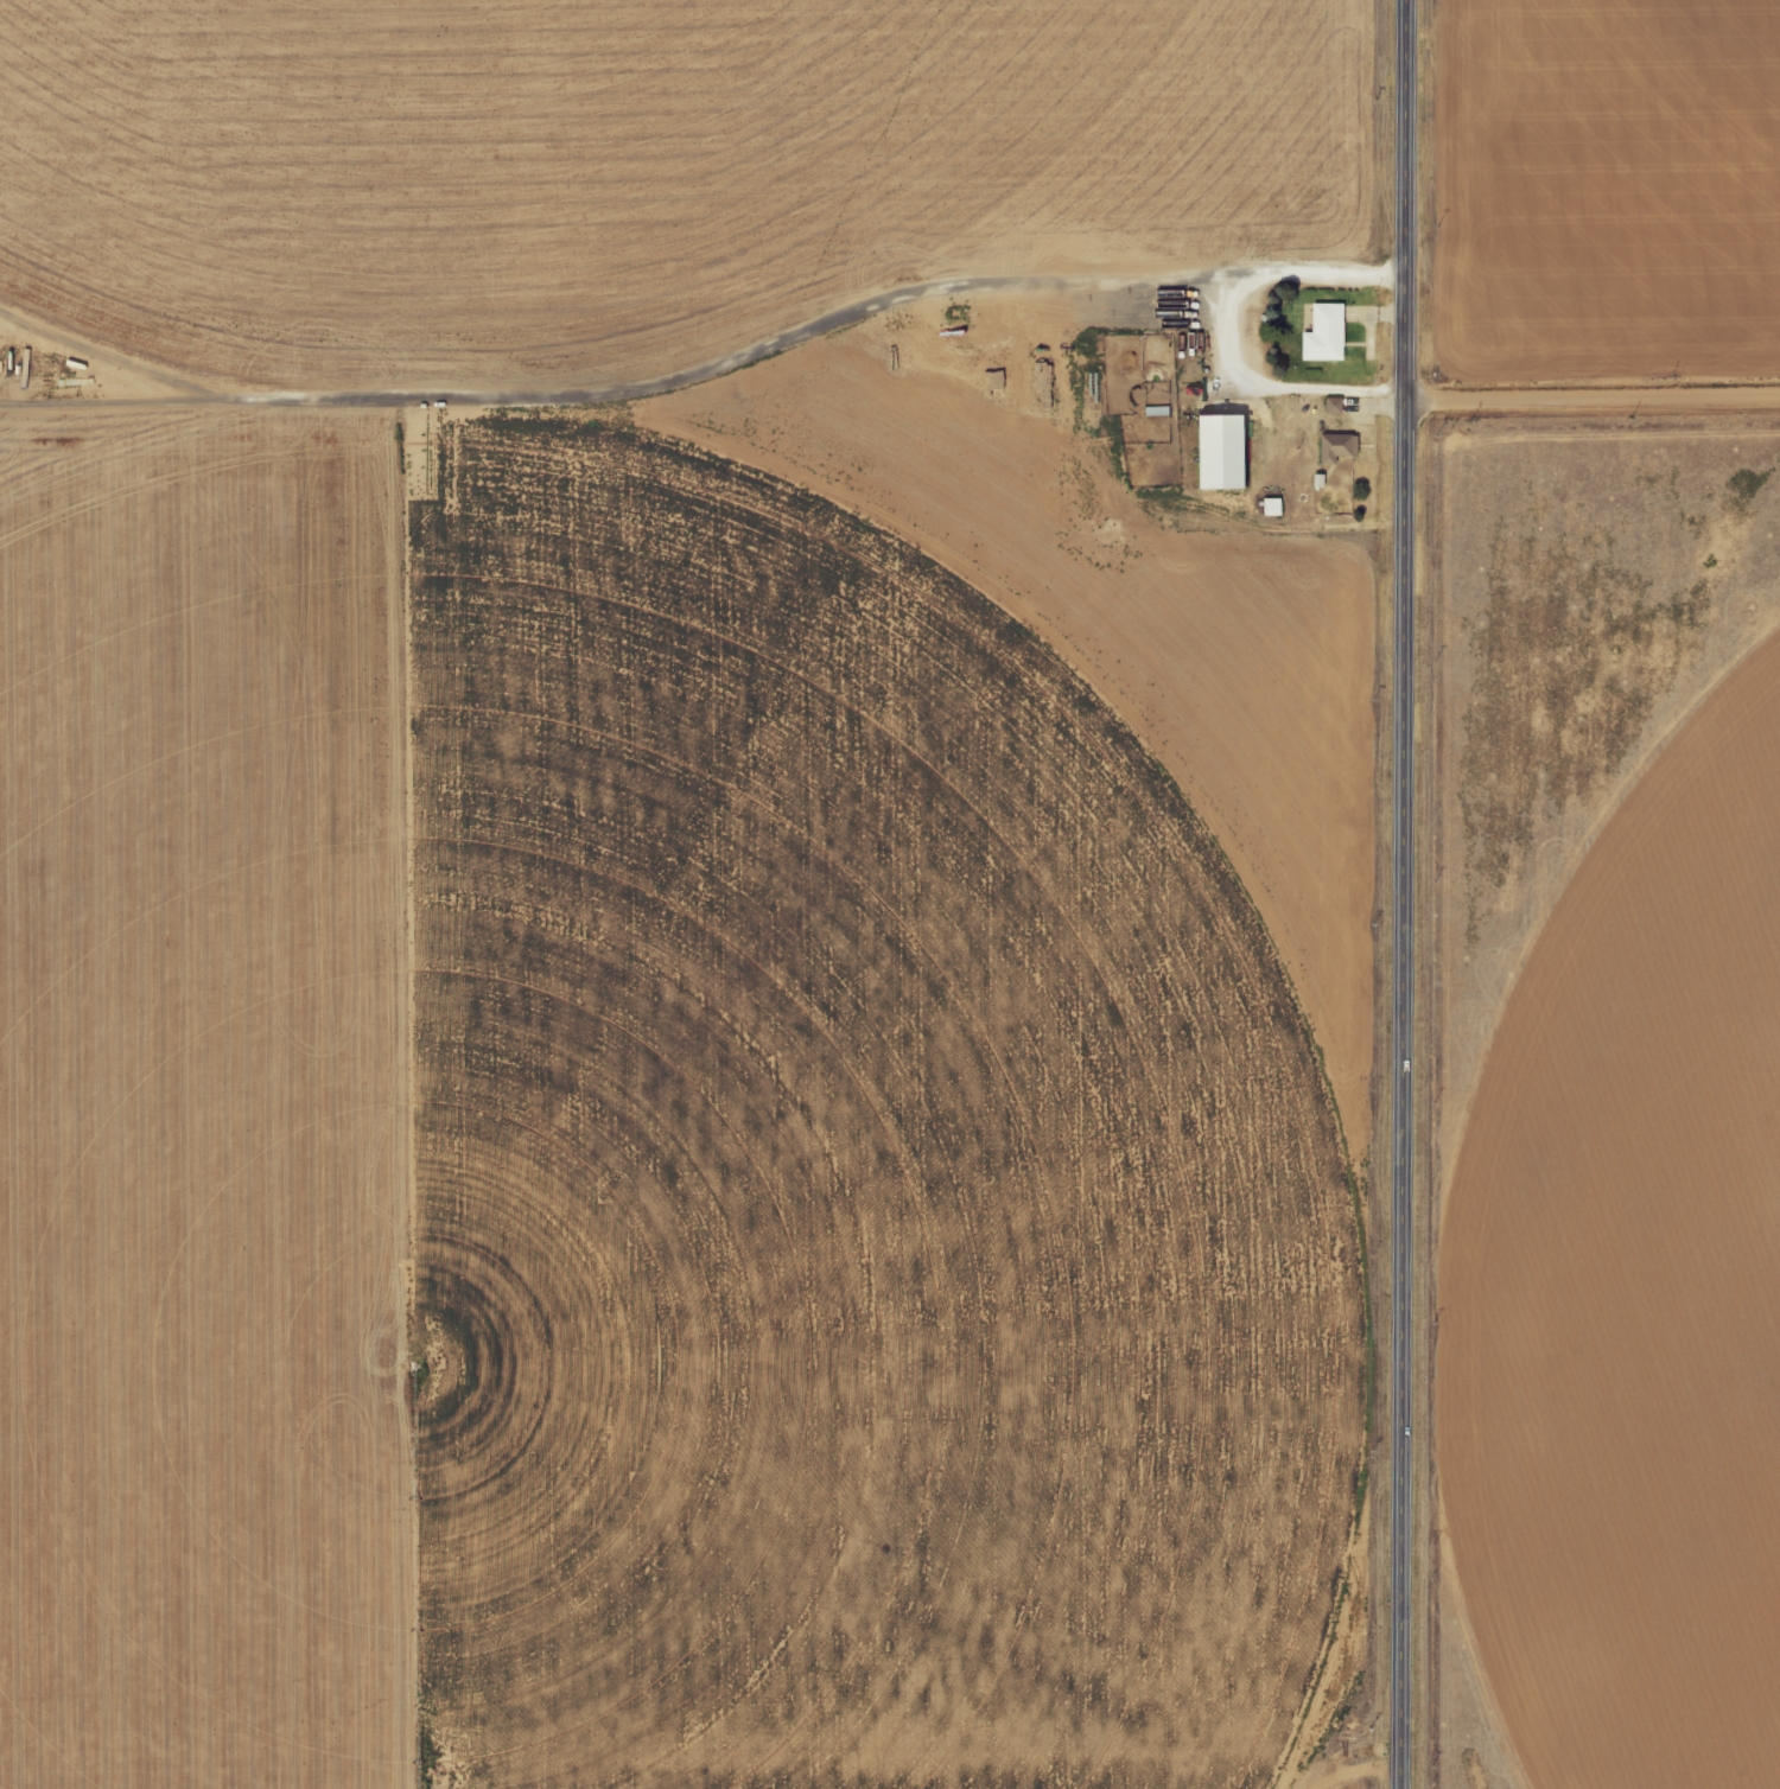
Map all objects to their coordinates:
building: (1327, 333)
road: (1593, 391)
building: (1339, 448)
building: (1221, 452)
building: (1274, 508)
road: (1401, 893)

